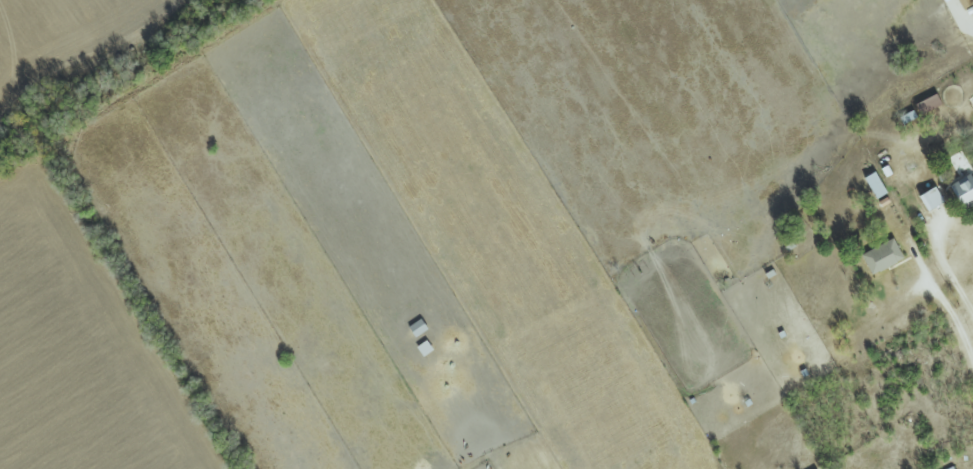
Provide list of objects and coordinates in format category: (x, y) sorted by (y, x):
road: (965, 126)
building: (961, 184)
building: (927, 198)
building: (880, 256)
road: (941, 262)
road: (944, 307)

